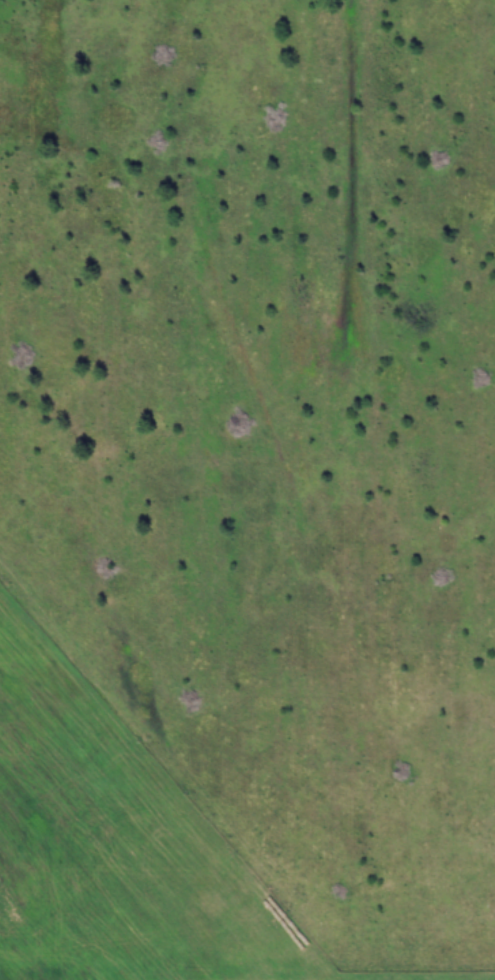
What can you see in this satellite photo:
airport: (119, 849)

